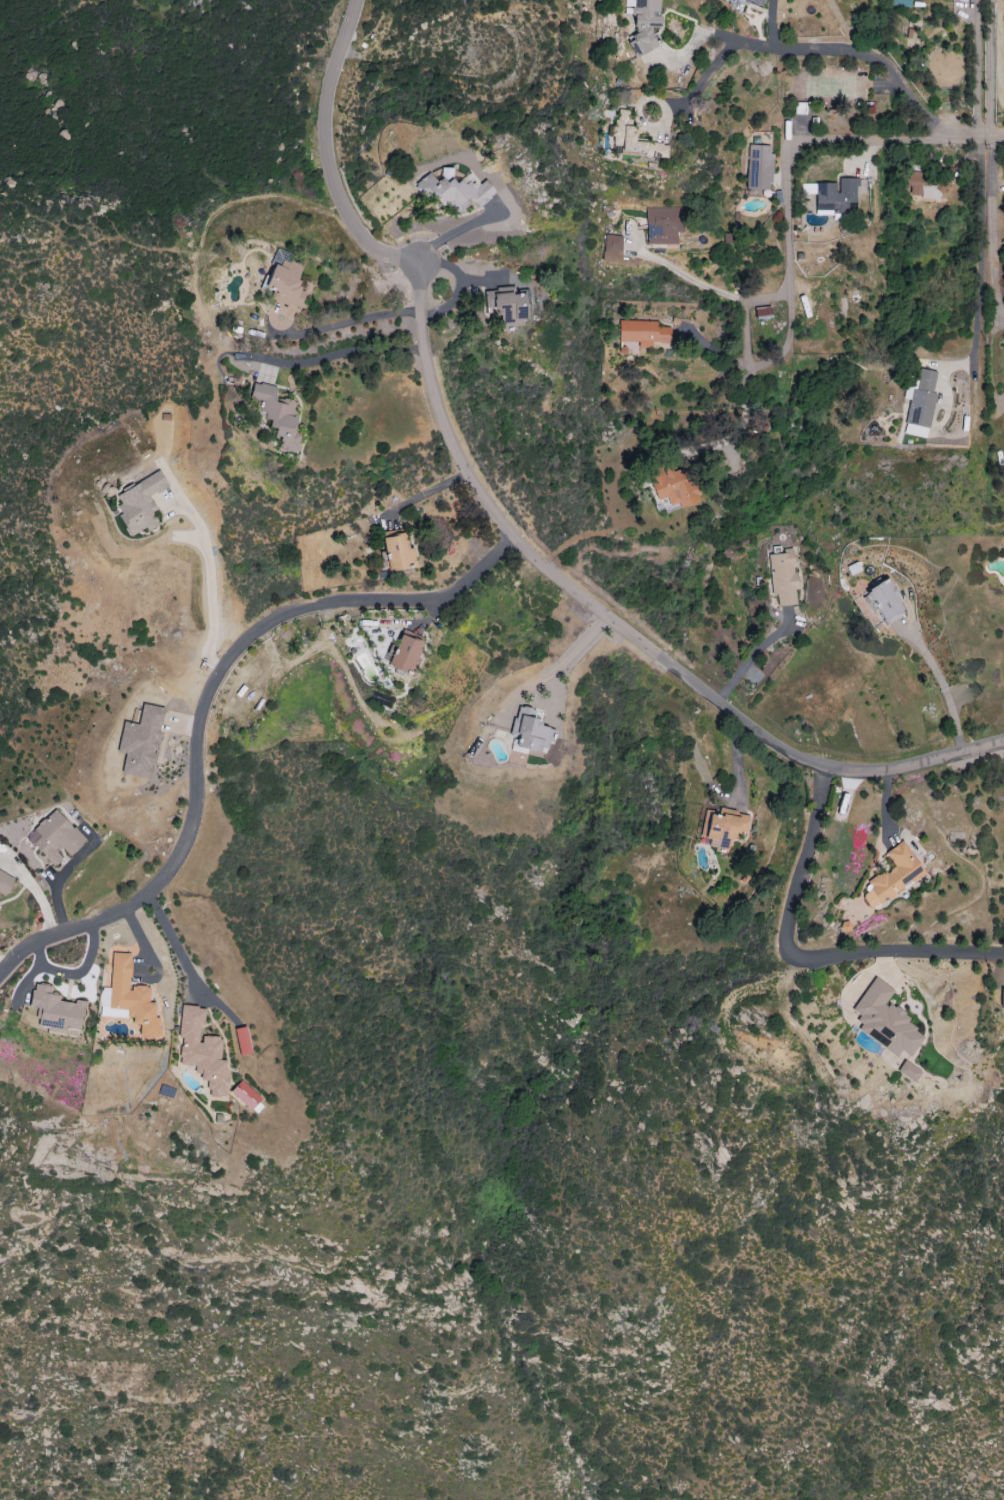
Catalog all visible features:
building: (753, 2)
building: (899, 3)
building: (643, 24)
road: (809, 50)
road: (979, 68)
building: (631, 138)
road: (994, 138)
building: (758, 168)
building: (921, 186)
building: (453, 192)
building: (834, 196)
road: (787, 199)
building: (663, 225)
road: (453, 232)
building: (612, 244)
road: (982, 250)
building: (285, 283)
building: (507, 306)
building: (762, 312)
road: (344, 322)
road: (744, 331)
building: (642, 333)
road: (332, 355)
road: (761, 361)
building: (1003, 395)
building: (921, 403)
building: (278, 418)
building: (673, 487)
building: (139, 505)
road: (501, 522)
building: (397, 552)
building: (783, 576)
road: (209, 577)
building: (884, 601)
building: (405, 651)
road: (945, 688)
road: (205, 700)
building: (530, 732)
building: (139, 742)
road: (737, 758)
road: (821, 790)
building: (723, 828)
building: (54, 837)
building: (894, 876)
road: (793, 882)
building: (4, 883)
road: (174, 944)
road: (895, 951)
road: (7, 960)
building: (127, 998)
building: (1002, 998)
building: (55, 1010)
building: (885, 1021)
building: (242, 1041)
building: (201, 1050)
building: (908, 1071)

